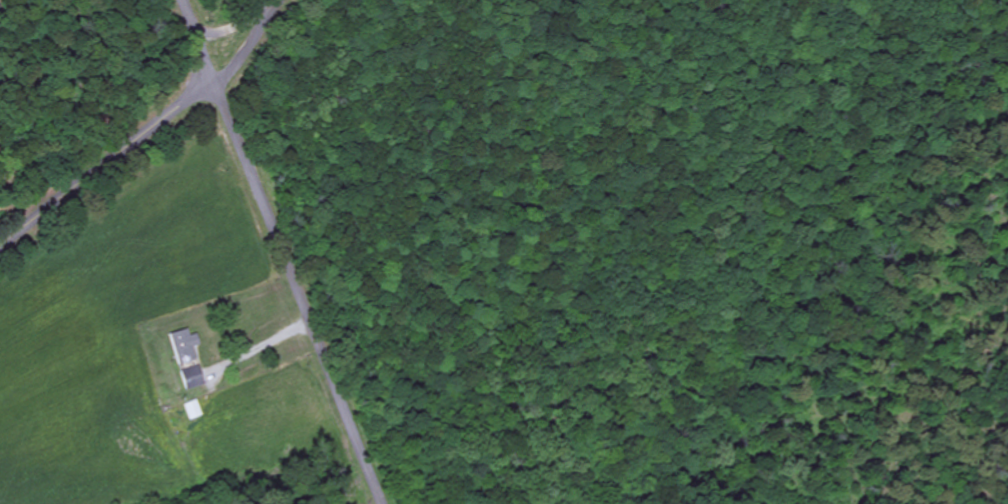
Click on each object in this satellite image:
road: (253, 44)
road: (105, 162)
road: (281, 251)
building: (185, 347)
building: (192, 379)

